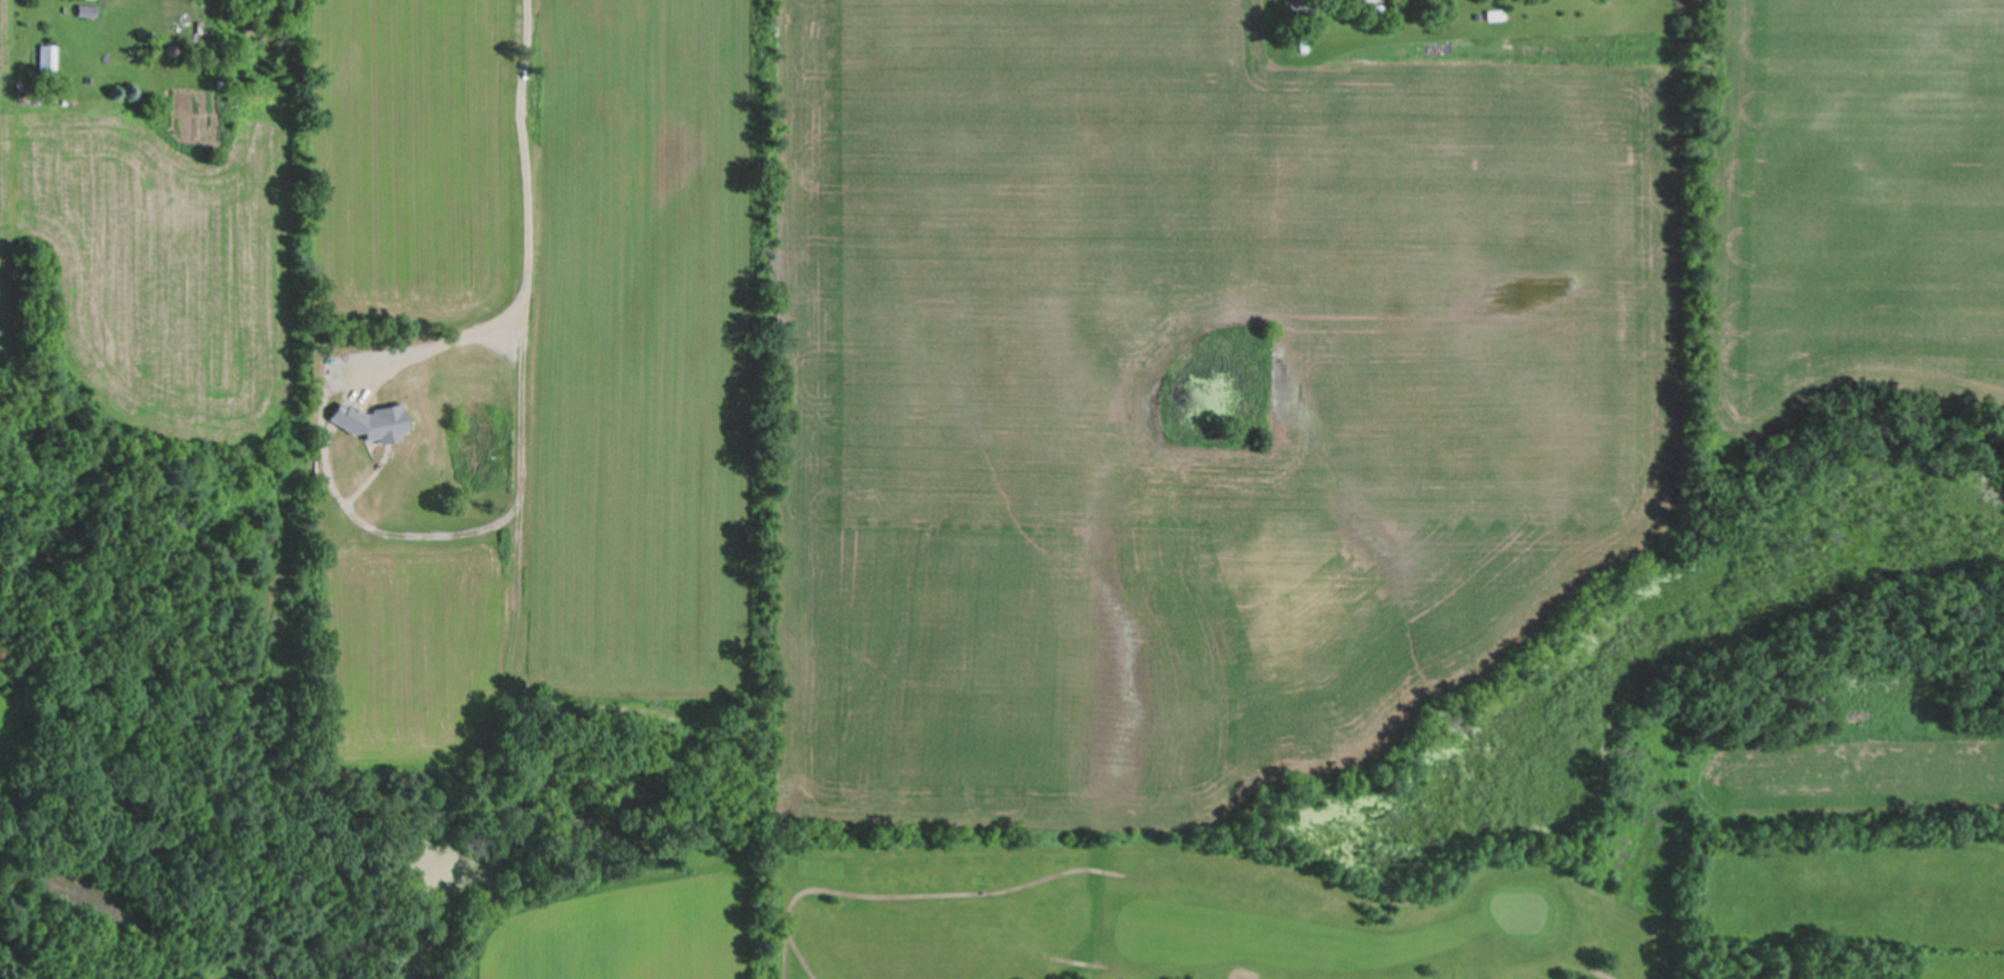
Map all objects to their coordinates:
building: (86, 13)
building: (47, 61)
road: (932, 893)
park: (1238, 906)
park: (1521, 907)
road: (1610, 975)

